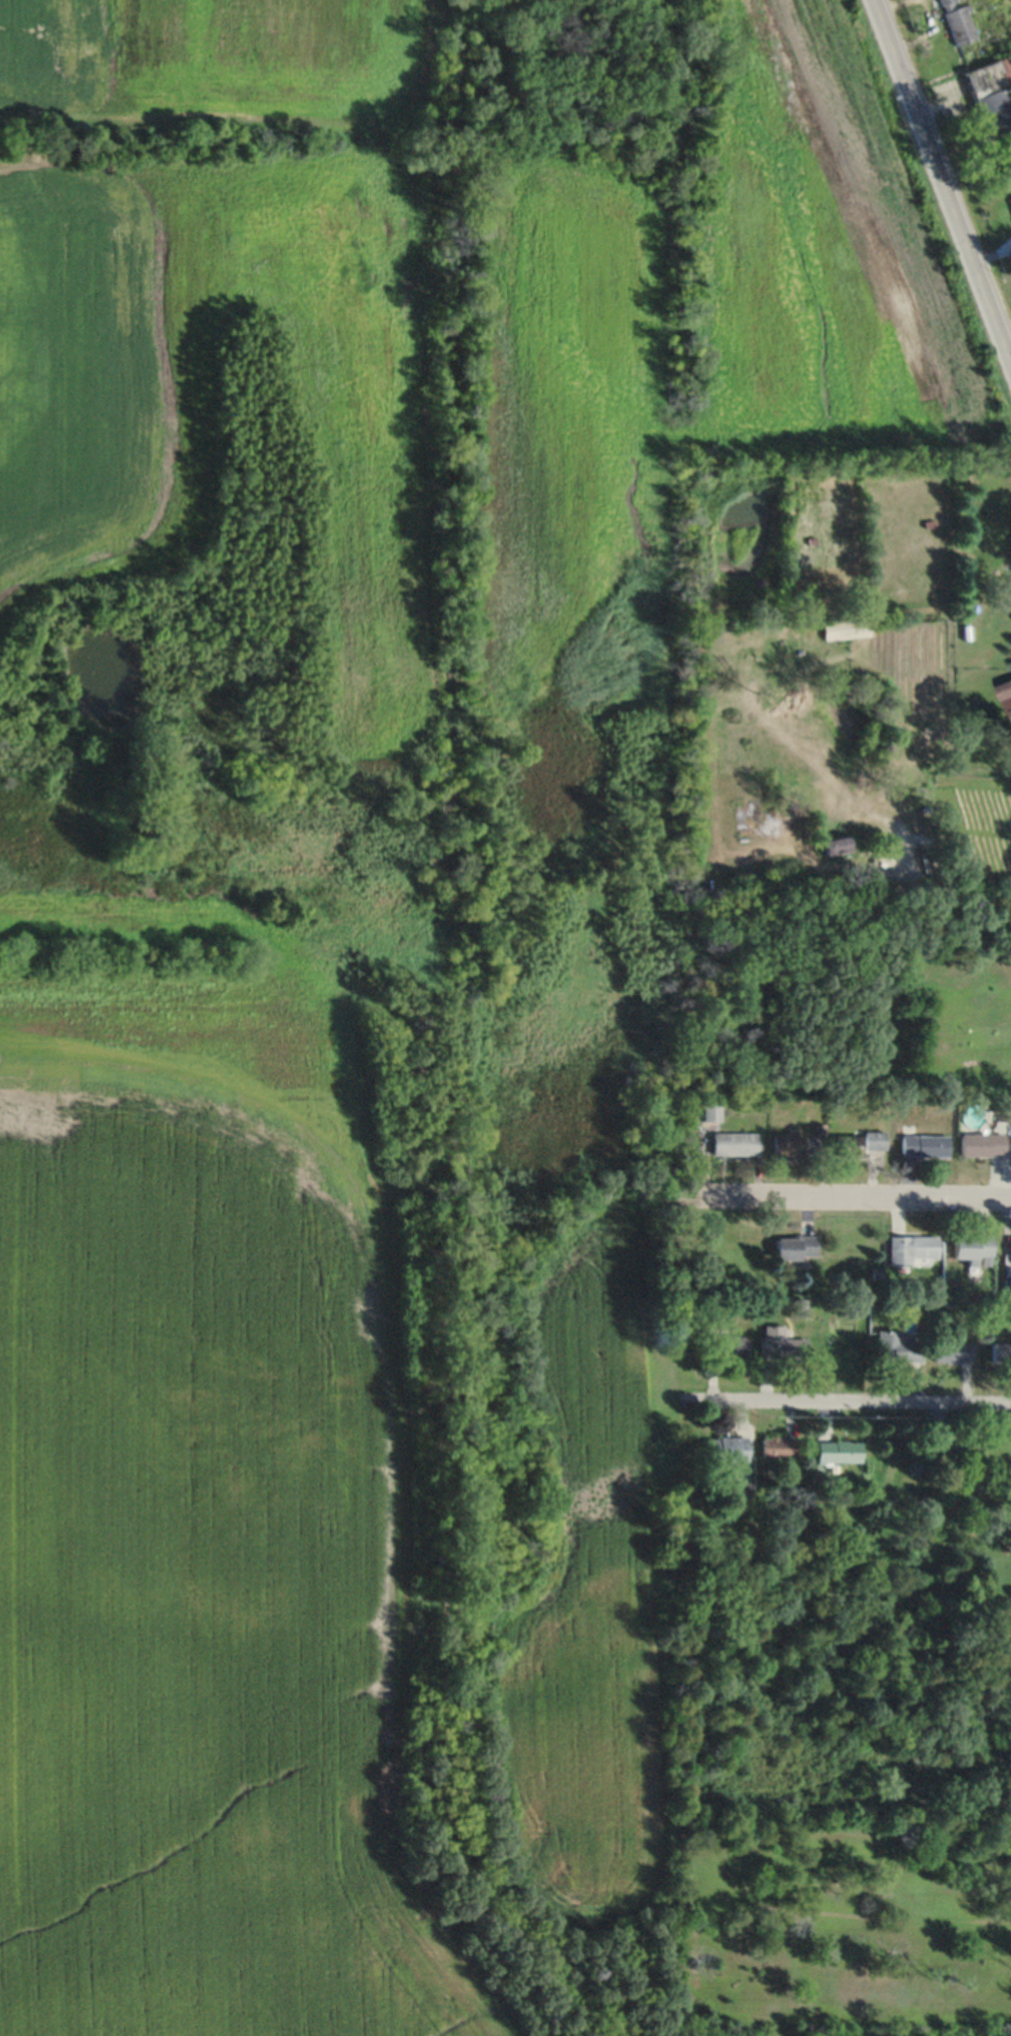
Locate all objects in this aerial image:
building: (956, 22)
building: (992, 93)
road: (940, 183)
building: (1010, 201)
building: (843, 628)
building: (1010, 683)
building: (834, 845)
building: (964, 855)
building: (708, 1110)
building: (734, 1143)
building: (786, 1143)
building: (858, 1143)
building: (982, 1143)
building: (923, 1145)
road: (854, 1203)
building: (795, 1246)
building: (910, 1248)
building: (973, 1249)
building: (780, 1343)
building: (728, 1346)
building: (896, 1347)
building: (952, 1351)
building: (999, 1352)
road: (846, 1408)
building: (776, 1446)
building: (724, 1447)
building: (838, 1450)
building: (954, 1455)

